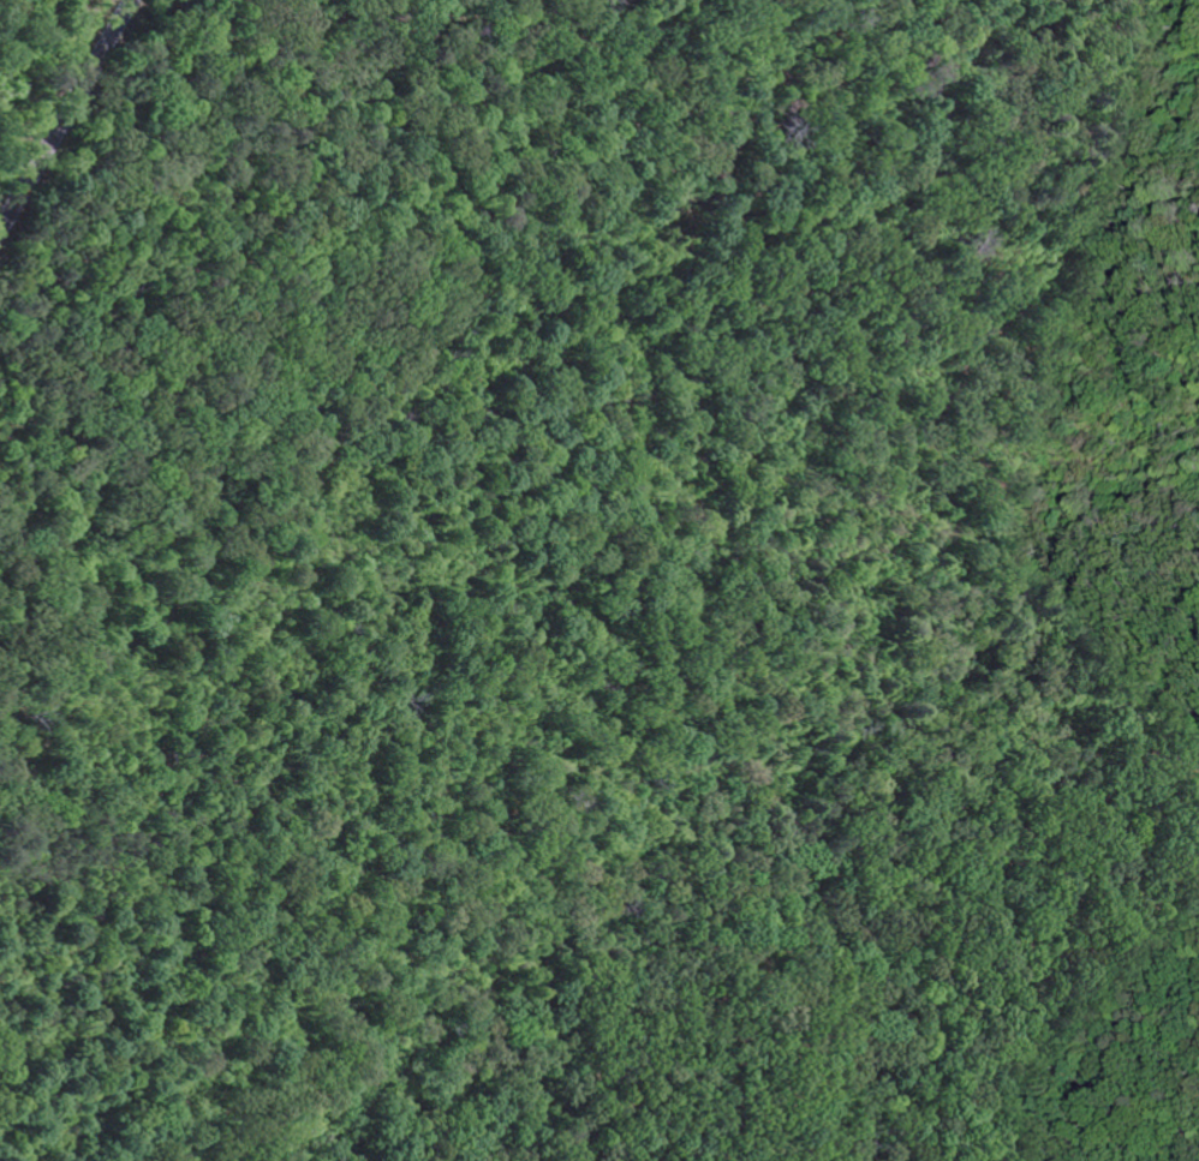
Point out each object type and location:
road: (67, 116)

